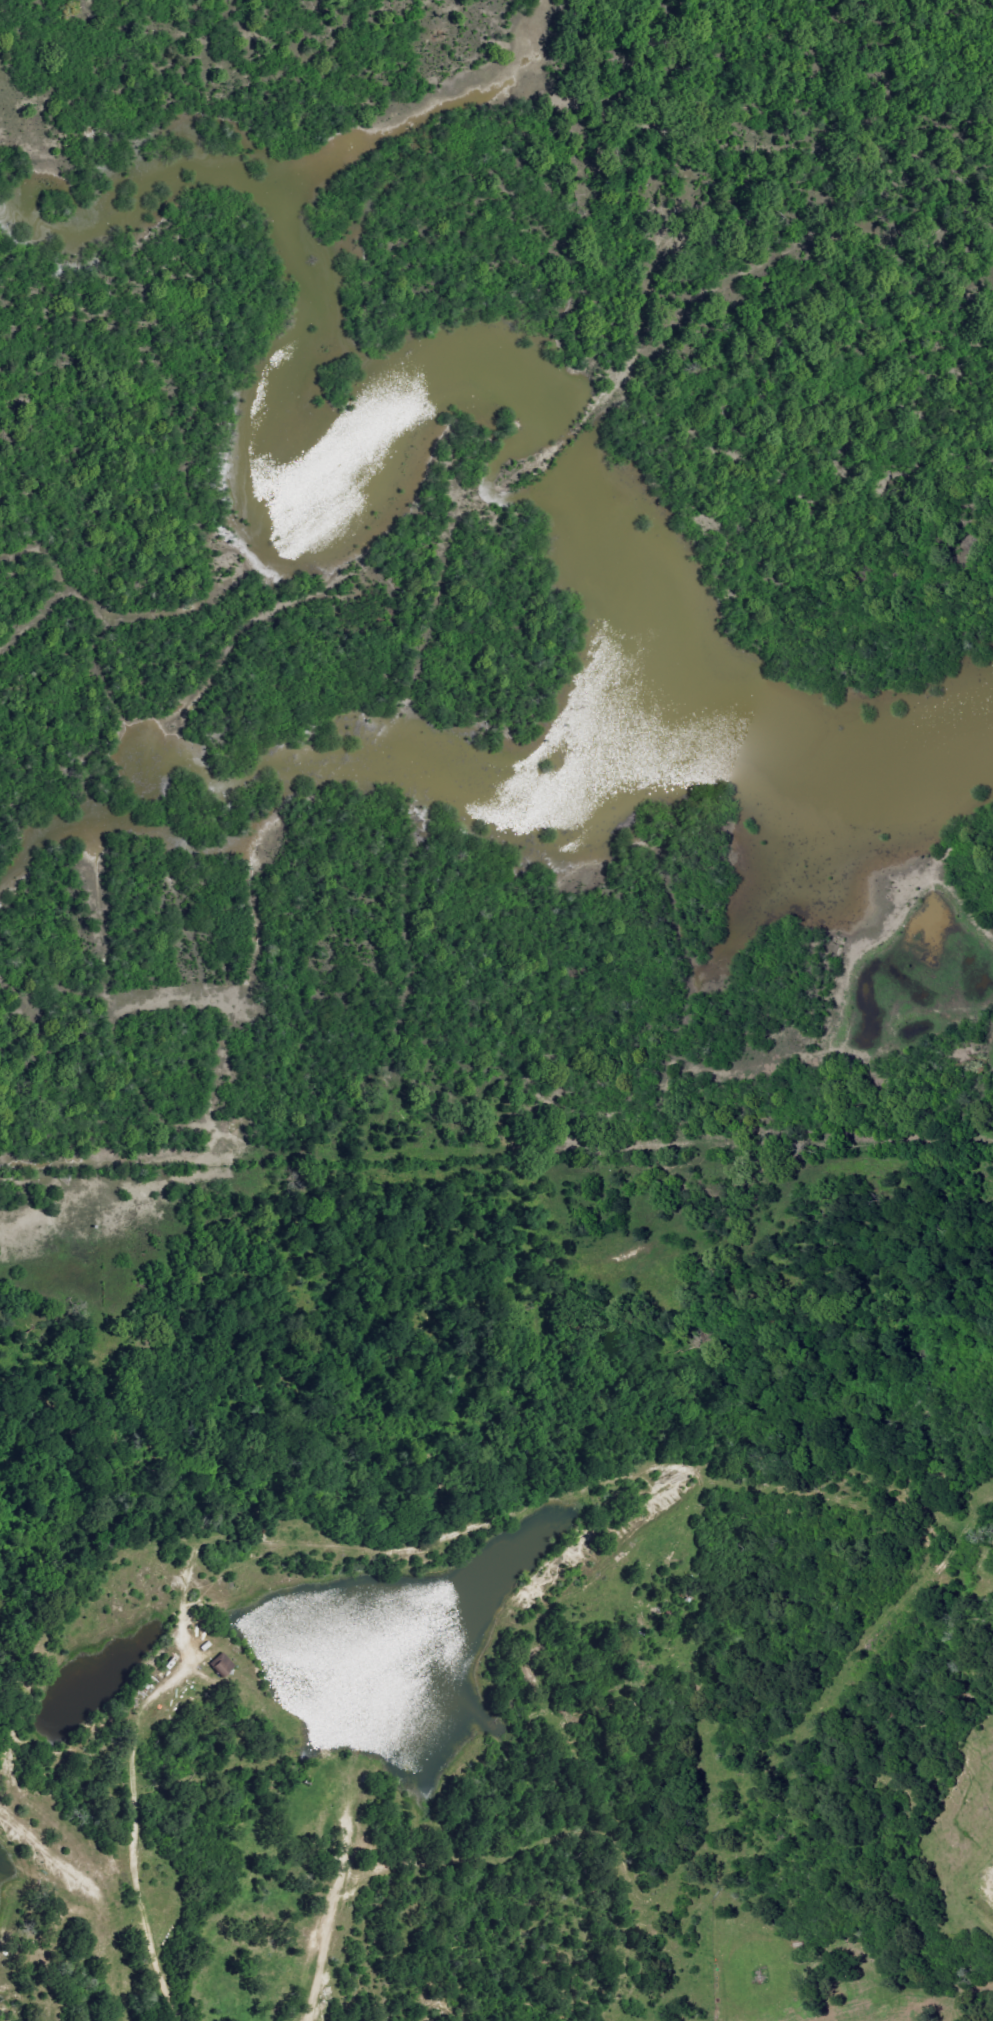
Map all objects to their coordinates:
road: (133, 1848)

